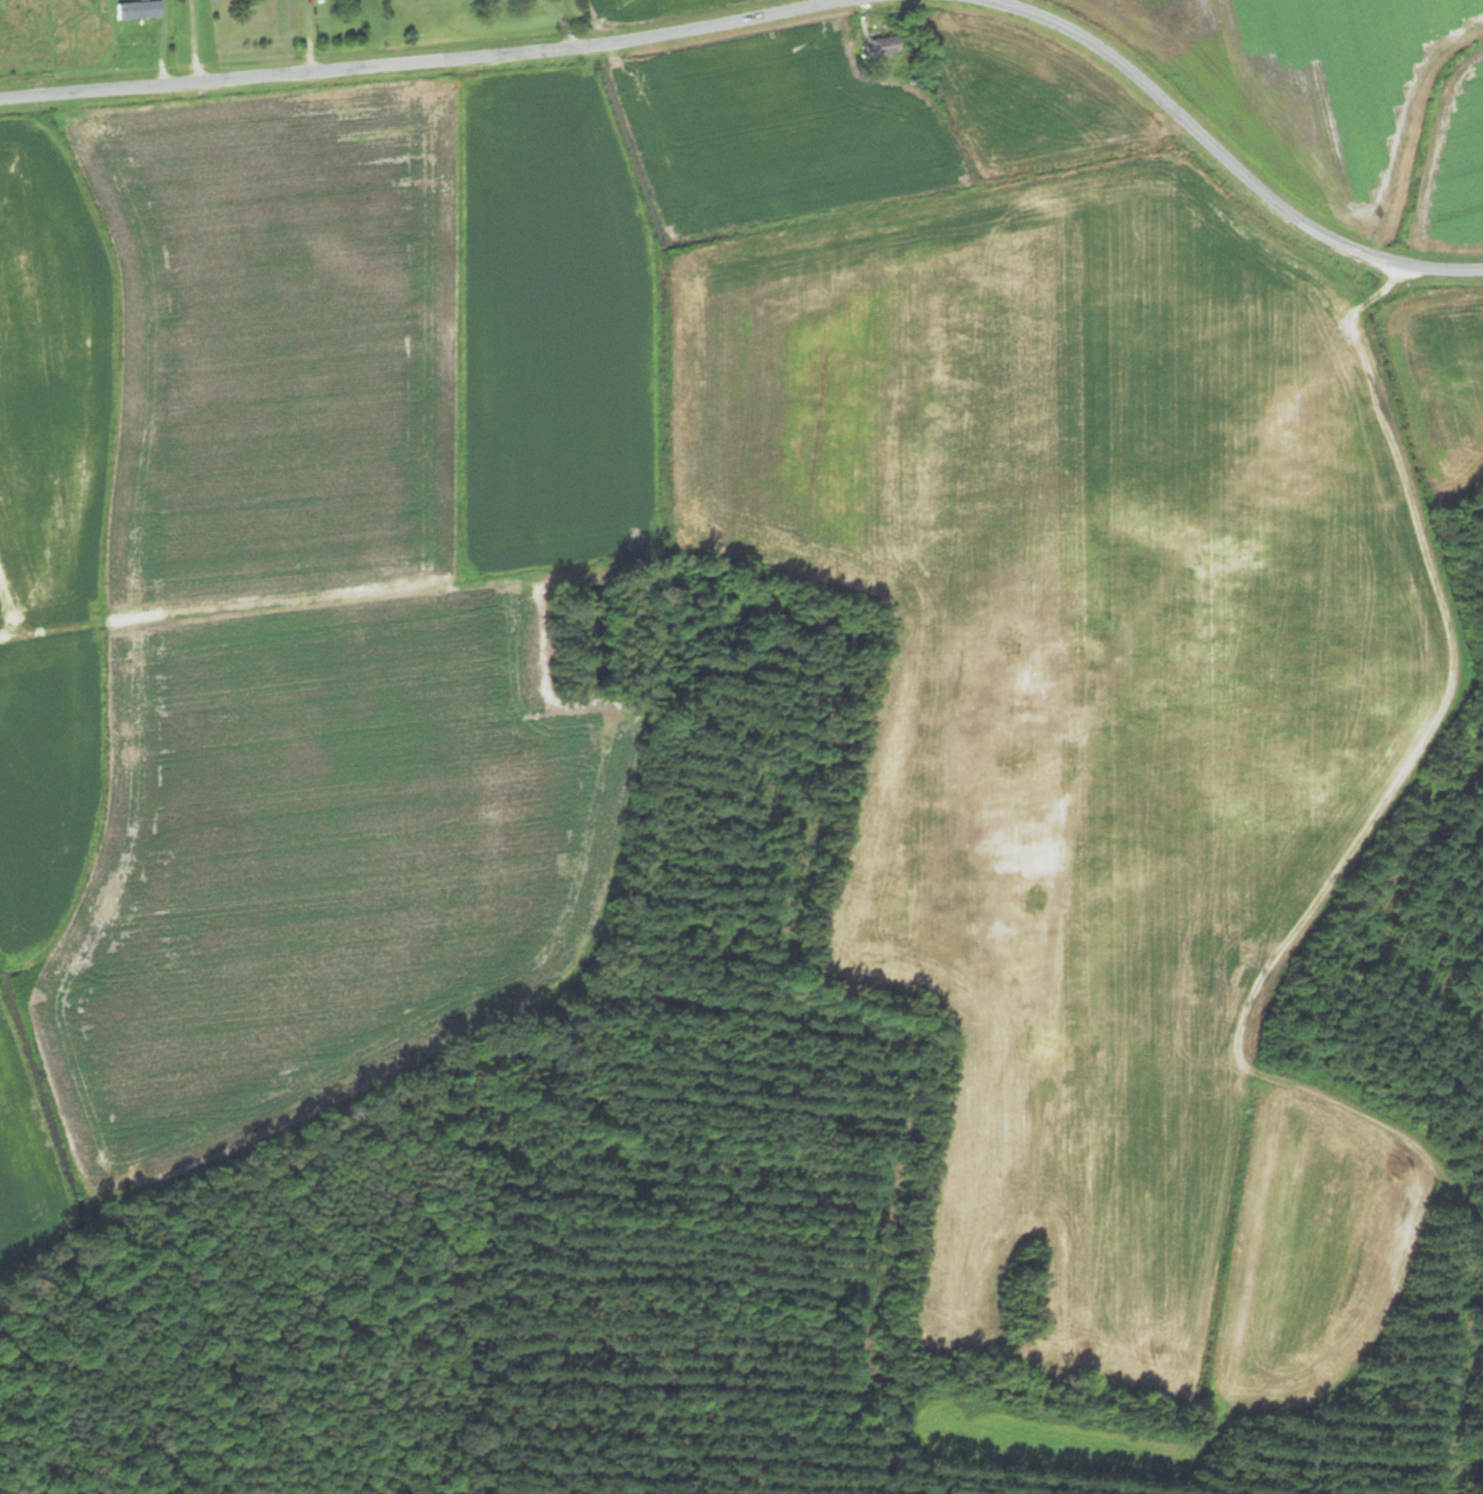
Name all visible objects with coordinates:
building: (139, 11)
building: (885, 47)
road: (427, 59)
road: (1224, 160)

